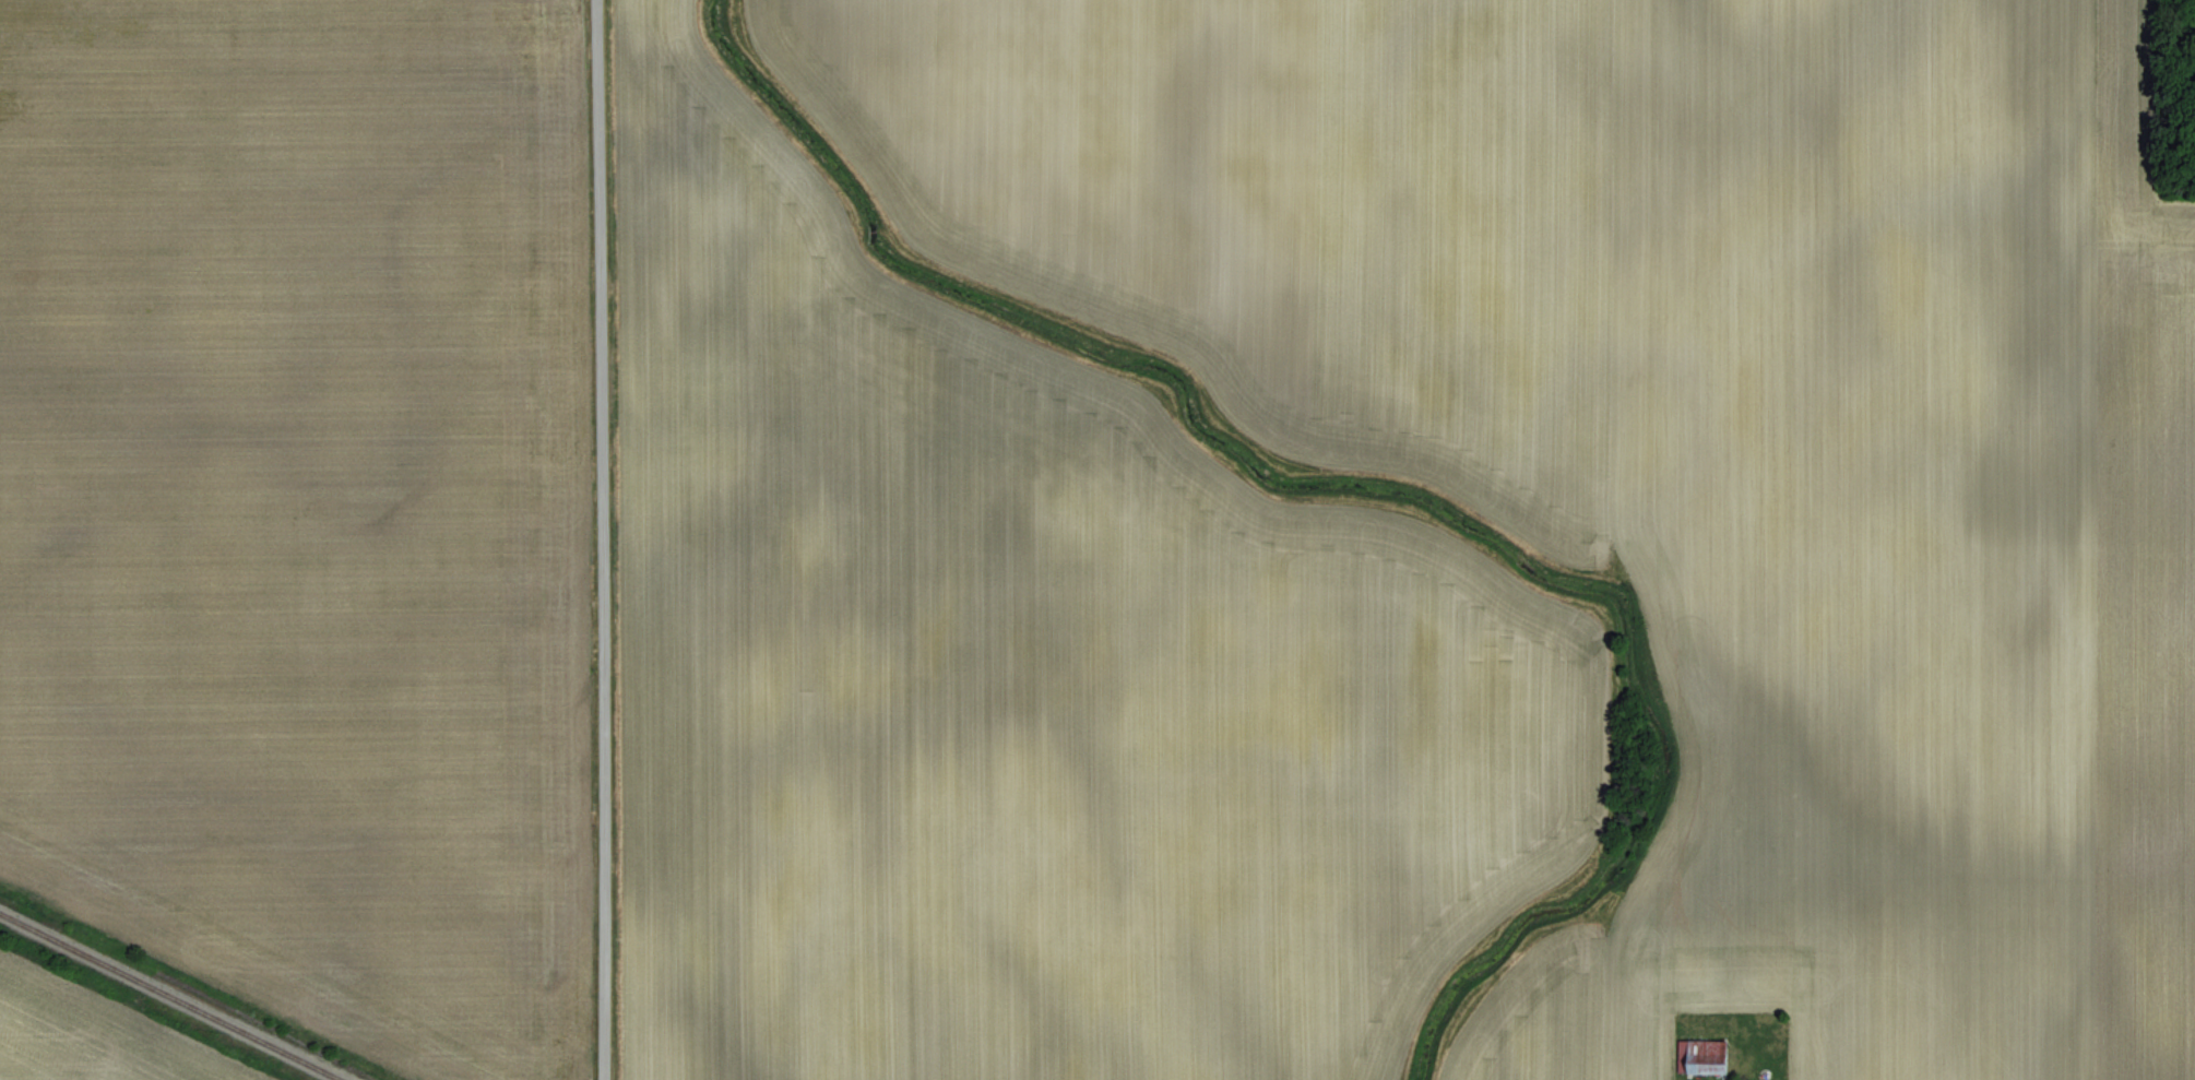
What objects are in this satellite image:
road: (598, 539)
railway: (174, 995)

